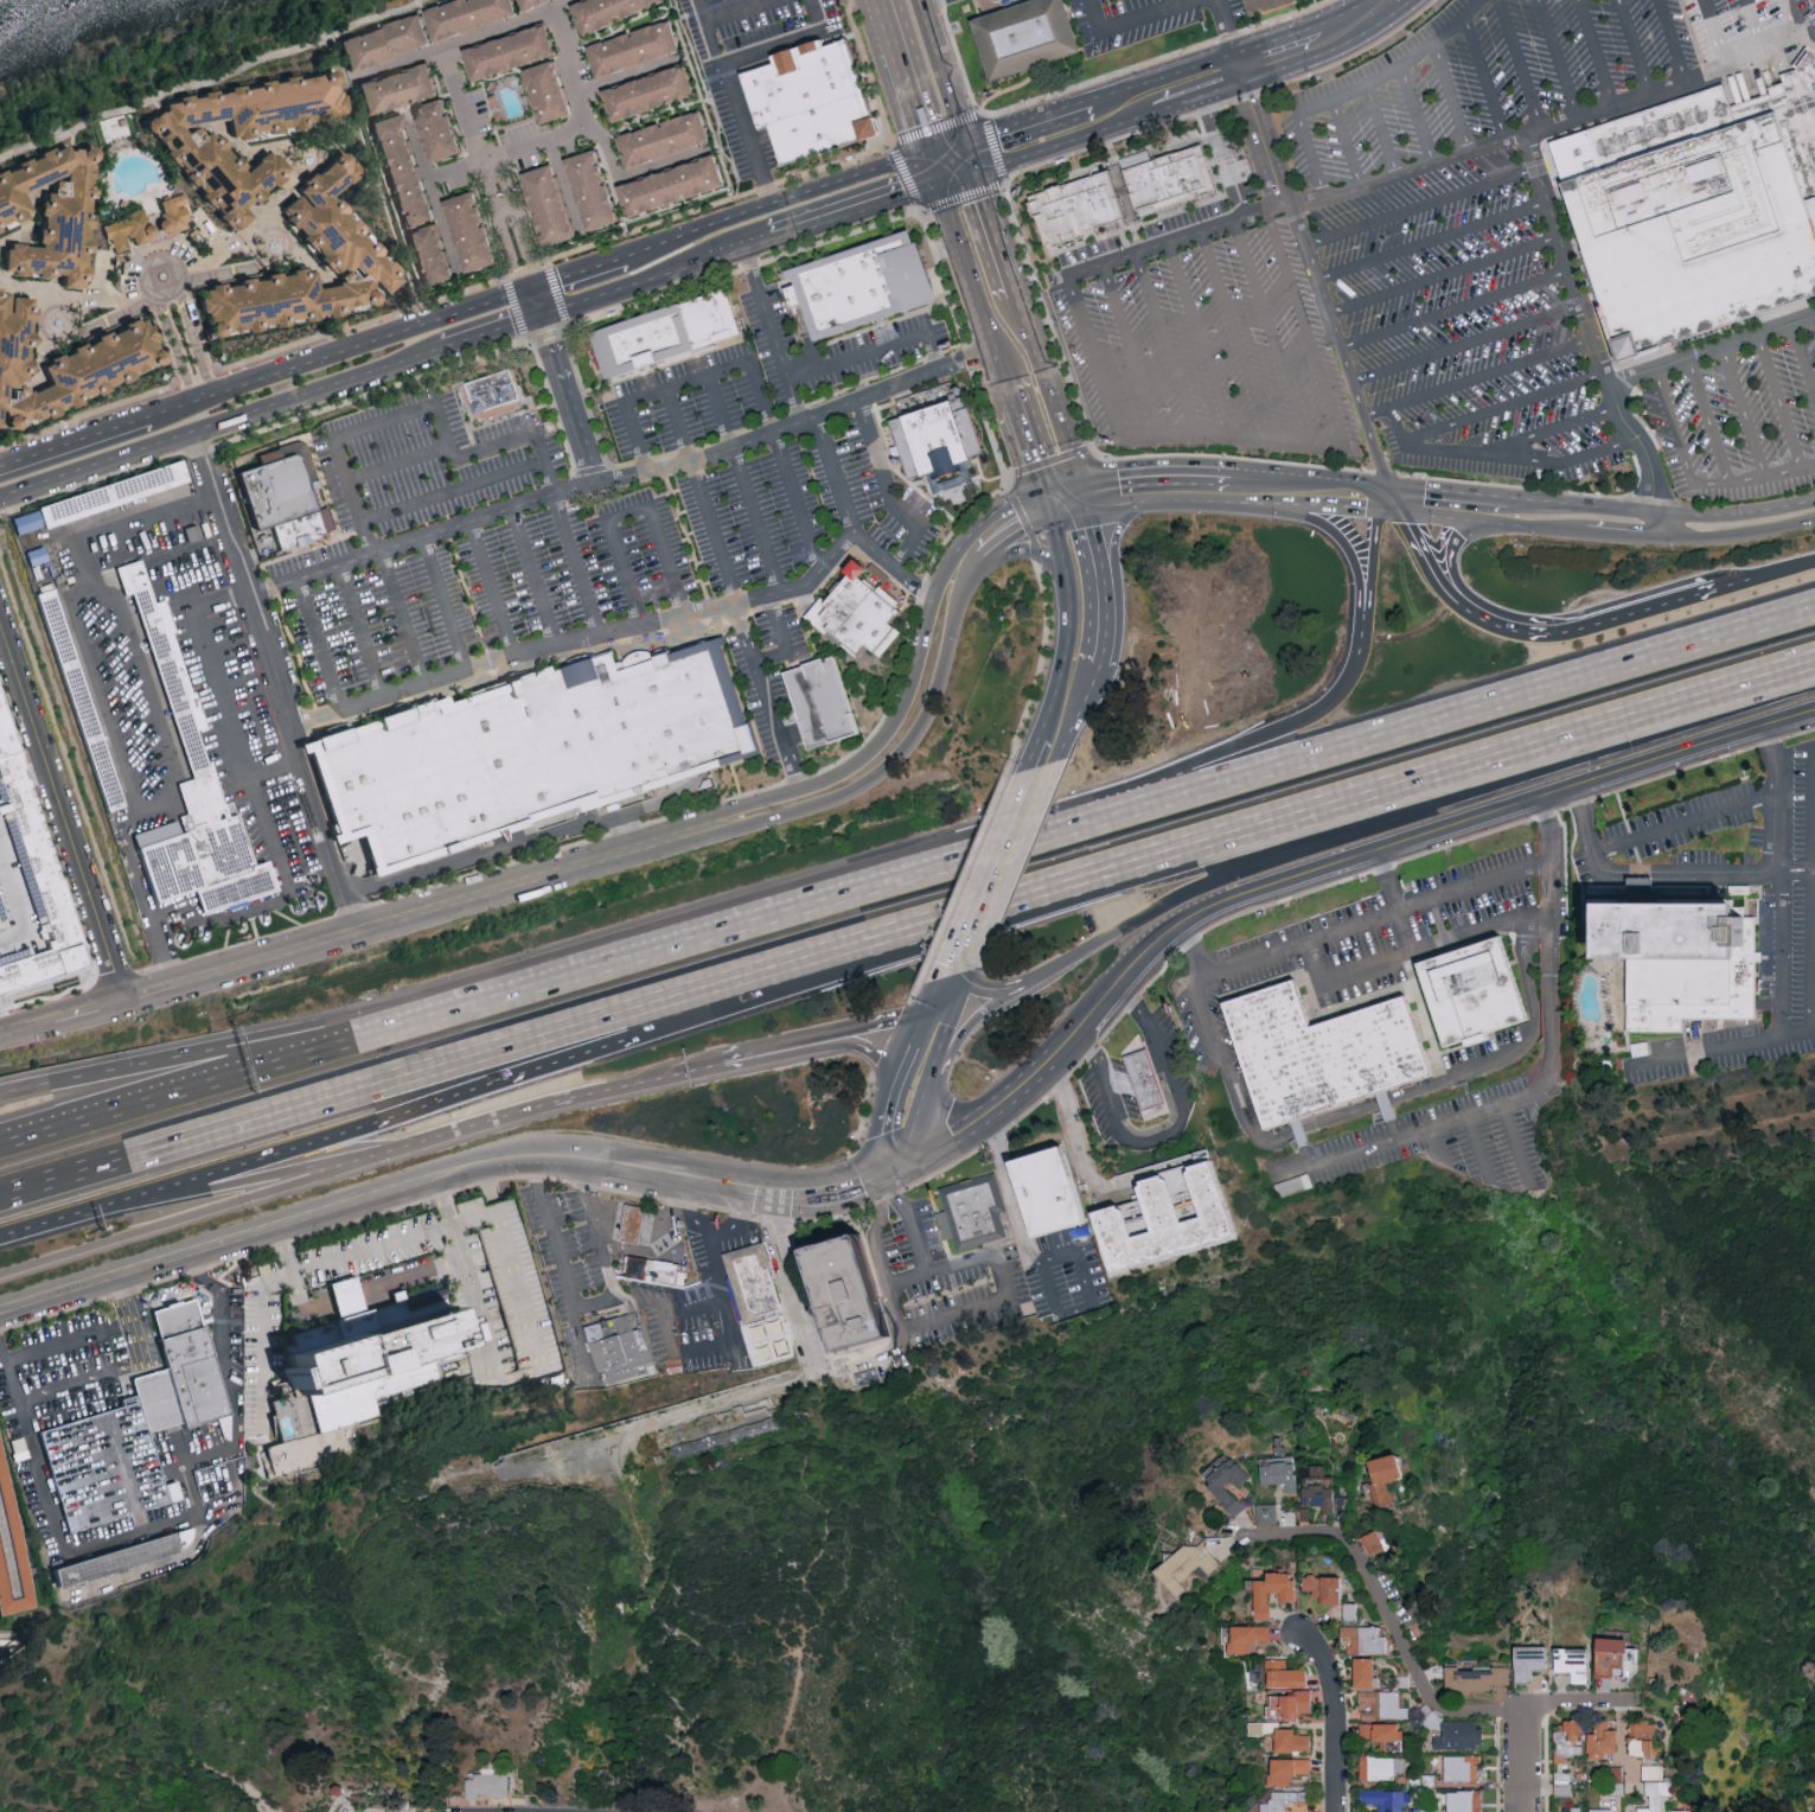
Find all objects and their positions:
road: (920, 1)
road: (926, 1)
building: (538, 2)
road: (746, 4)
river: (13, 5)
building: (1270, 5)
road: (880, 7)
building: (613, 11)
road: (740, 11)
building: (473, 14)
road: (1135, 21)
road: (1355, 24)
road: (1756, 28)
road: (708, 33)
road: (498, 34)
road: (1231, 34)
road: (1719, 34)
building: (1022, 37)
building: (389, 42)
road: (787, 42)
road: (1668, 43)
building: (640, 47)
road: (1634, 47)
building: (516, 51)
road: (1594, 53)
road: (1278, 56)
road: (1555, 59)
road: (1522, 64)
road: (1400, 66)
road: (944, 72)
road: (1163, 76)
road: (218, 79)
road: (1485, 81)
road: (905, 84)
building: (402, 88)
building: (552, 91)
building: (654, 91)
road: (581, 92)
road: (1204, 96)
road: (1451, 100)
building: (813, 101)
road: (1417, 116)
road: (471, 121)
road: (1027, 121)
road: (1565, 121)
building: (442, 129)
road: (746, 134)
road: (1379, 134)
building: (248, 135)
building: (671, 138)
road: (1261, 138)
traffic signals: (966, 141)
road: (1071, 142)
road: (550, 145)
road: (1347, 145)
road: (947, 148)
traffic signals: (928, 155)
road: (1314, 155)
road: (971, 157)
road: (1223, 157)
building: (685, 158)
building: (407, 170)
road: (934, 170)
traffic signals: (977, 174)
road: (630, 177)
road: (848, 180)
road: (958, 180)
building: (1165, 180)
building: (678, 185)
traffic signals: (939, 186)
building: (47, 189)
building: (597, 190)
building: (556, 203)
road: (1420, 205)
building: (1075, 209)
road: (855, 210)
building: (175, 212)
building: (1698, 212)
building: (56, 213)
road: (274, 226)
building: (132, 230)
road: (698, 230)
building: (478, 231)
road: (997, 234)
road: (515, 238)
road: (1174, 238)
road: (1432, 242)
building: (343, 243)
road: (741, 247)
parking lot: (1407, 253)
building: (437, 254)
road: (156, 259)
road: (580, 269)
road: (1444, 275)
road: (970, 285)
traffic signals: (532, 286)
road: (626, 288)
building: (869, 291)
road: (68, 294)
road: (1456, 312)
traffic signals: (542, 315)
road: (121, 318)
road: (1587, 325)
road: (492, 331)
road: (1267, 331)
road: (1234, 333)
road: (771, 334)
building: (673, 337)
road: (1199, 337)
road: (1164, 343)
road: (1468, 344)
road: (1308, 345)
road: (343, 349)
road: (1129, 350)
road: (1341, 350)
road: (874, 351)
road: (1711, 351)
road: (1803, 361)
building: (65, 364)
road: (750, 371)
road: (1098, 374)
road: (1478, 378)
road: (563, 385)
road: (1050, 395)
road: (1008, 396)
building: (498, 397)
road: (1778, 404)
road: (1506, 406)
road: (427, 407)
road: (1743, 413)
road: (222, 421)
road: (1706, 422)
parking lot: (1739, 426)
road: (1674, 427)
road: (1557, 430)
road: (1231, 433)
road: (77, 439)
building: (938, 441)
road: (1431, 451)
road: (1028, 458)
road: (1567, 462)
road: (400, 465)
road: (835, 476)
road: (624, 478)
road: (1753, 479)
road: (743, 484)
road: (1189, 486)
road: (1114, 491)
road: (454, 492)
road: (1309, 492)
road: (702, 495)
road: (886, 495)
traffic signals: (1082, 496)
road: (1063, 500)
building: (119, 503)
parking lot: (607, 503)
road: (1438, 504)
traffic signals: (1046, 505)
road: (1572, 505)
building: (283, 508)
road: (631, 512)
road: (1736, 512)
road: (1503, 517)
road: (1656, 523)
road: (1553, 527)
road: (1001, 531)
road: (1736, 531)
road: (1622, 532)
road: (1116, 536)
road: (1093, 543)
road: (1350, 550)
road: (1014, 554)
road: (1457, 554)
road: (1430, 557)
road: (577, 567)
road: (1785, 570)
road: (532, 579)
road: (1737, 583)
road: (491, 591)
road: (225, 604)
road: (442, 605)
building: (857, 613)
road: (402, 619)
road: (1068, 621)
road: (1594, 621)
road: (1104, 627)
road: (631, 629)
road: (358, 633)
road: (781, 640)
road: (318, 647)
road: (277, 679)
road: (96, 695)
road: (763, 695)
building: (825, 710)
road: (1078, 716)
road: (1637, 716)
road: (234, 722)
building: (81, 726)
road: (884, 732)
road: (1388, 732)
road: (1250, 744)
road: (896, 748)
road: (1027, 755)
building: (533, 758)
building: (199, 761)
road: (180, 767)
road: (277, 768)
road: (64, 806)
road: (1683, 819)
road: (1187, 849)
road: (1011, 864)
road: (1319, 870)
road: (1232, 873)
road: (1718, 874)
building: (28, 876)
road: (974, 876)
road: (1504, 878)
road: (1814, 881)
road: (756, 920)
road: (1496, 926)
road: (360, 930)
road: (1777, 933)
road: (1308, 943)
parking lot: (1360, 945)
building: (1679, 959)
road: (966, 971)
road: (1346, 976)
traffic signals: (932, 977)
road: (947, 980)
traffic signals: (963, 982)
road: (778, 985)
road: (986, 987)
road: (958, 994)
building: (1469, 995)
road: (922, 1000)
road: (933, 1015)
road: (1207, 1019)
road: (969, 1027)
road: (1532, 1028)
road: (870, 1031)
road: (275, 1038)
road: (1726, 1040)
road: (774, 1049)
road: (865, 1051)
building: (1317, 1054)
road: (275, 1061)
road: (458, 1064)
road: (507, 1079)
building: (1143, 1082)
road: (926, 1085)
road: (890, 1098)
road: (561, 1102)
road: (1501, 1106)
road: (1074, 1130)
road: (1175, 1130)
road: (1310, 1131)
parking lot: (1453, 1140)
road: (1437, 1146)
road: (238, 1165)
traffic signals: (906, 1166)
road: (891, 1170)
traffic signals: (878, 1176)
road: (433, 1179)
road: (1507, 1179)
road: (250, 1180)
road: (1010, 1193)
building: (1046, 1195)
road: (442, 1202)
building: (972, 1213)
road: (200, 1214)
road: (479, 1217)
road: (912, 1219)
road: (50, 1223)
road: (643, 1225)
road: (596, 1227)
road: (708, 1230)
building: (1162, 1230)
building: (633, 1231)
road: (880, 1231)
building: (656, 1268)
road: (564, 1271)
parking lot: (1067, 1277)
road: (283, 1278)
parking lot: (941, 1282)
road: (788, 1283)
road: (723, 1287)
building: (759, 1290)
building: (843, 1294)
road: (594, 1300)
road: (343, 1301)
road: (1005, 1303)
road: (1092, 1307)
road: (223, 1308)
road: (686, 1308)
road: (69, 1340)
road: (718, 1346)
building: (618, 1353)
road: (864, 1361)
road: (522, 1373)
building: (187, 1383)
building: (359, 1383)
road: (53, 1389)
road: (155, 1390)
building: (53, 1449)
road: (209, 1451)
road: (124, 1476)
building: (1282, 1476)
building: (1386, 1478)
building: (1228, 1482)
building: (1321, 1499)
road: (218, 1505)
building: (1343, 1505)
building: (1268, 1516)
building: (1306, 1516)
building: (1376, 1543)
road: (63, 1545)
building: (13, 1550)
building: (120, 1558)
building: (1187, 1567)
building: (124, 1577)
building: (1274, 1593)
building: (1331, 1594)
road: (1388, 1612)
building: (1250, 1639)
building: (1366, 1641)
building: (1613, 1658)
building: (1530, 1664)
building: (1573, 1665)
building: (1368, 1674)
building: (1286, 1676)
building: (1477, 1680)
building: (1404, 1683)
road: (1589, 1703)
building: (1292, 1705)
building: (1386, 1705)
road: (1338, 1718)
building: (1453, 1733)
building: (1385, 1737)
building: (1284, 1738)
building: (1644, 1740)
road: (790, 1741)
building: (1570, 1741)
building: (1603, 1741)
road: (1526, 1759)
building: (1381, 1768)
building: (1463, 1768)
building: (1290, 1772)
building: (1654, 1774)
road: (759, 1775)
building: (1617, 1775)
building: (1415, 1782)
building: (1430, 1782)
building: (1564, 1786)
building: (487, 1787)
building: (1617, 1791)
building: (1667, 1791)
building: (1654, 1797)
building: (1386, 1800)
building: (1283, 1801)
building: (1466, 1801)
building: (1577, 1810)
building: (1686, 1810)
building: (1417, 1811)
building: (1431, 1811)
building: (1602, 1811)

